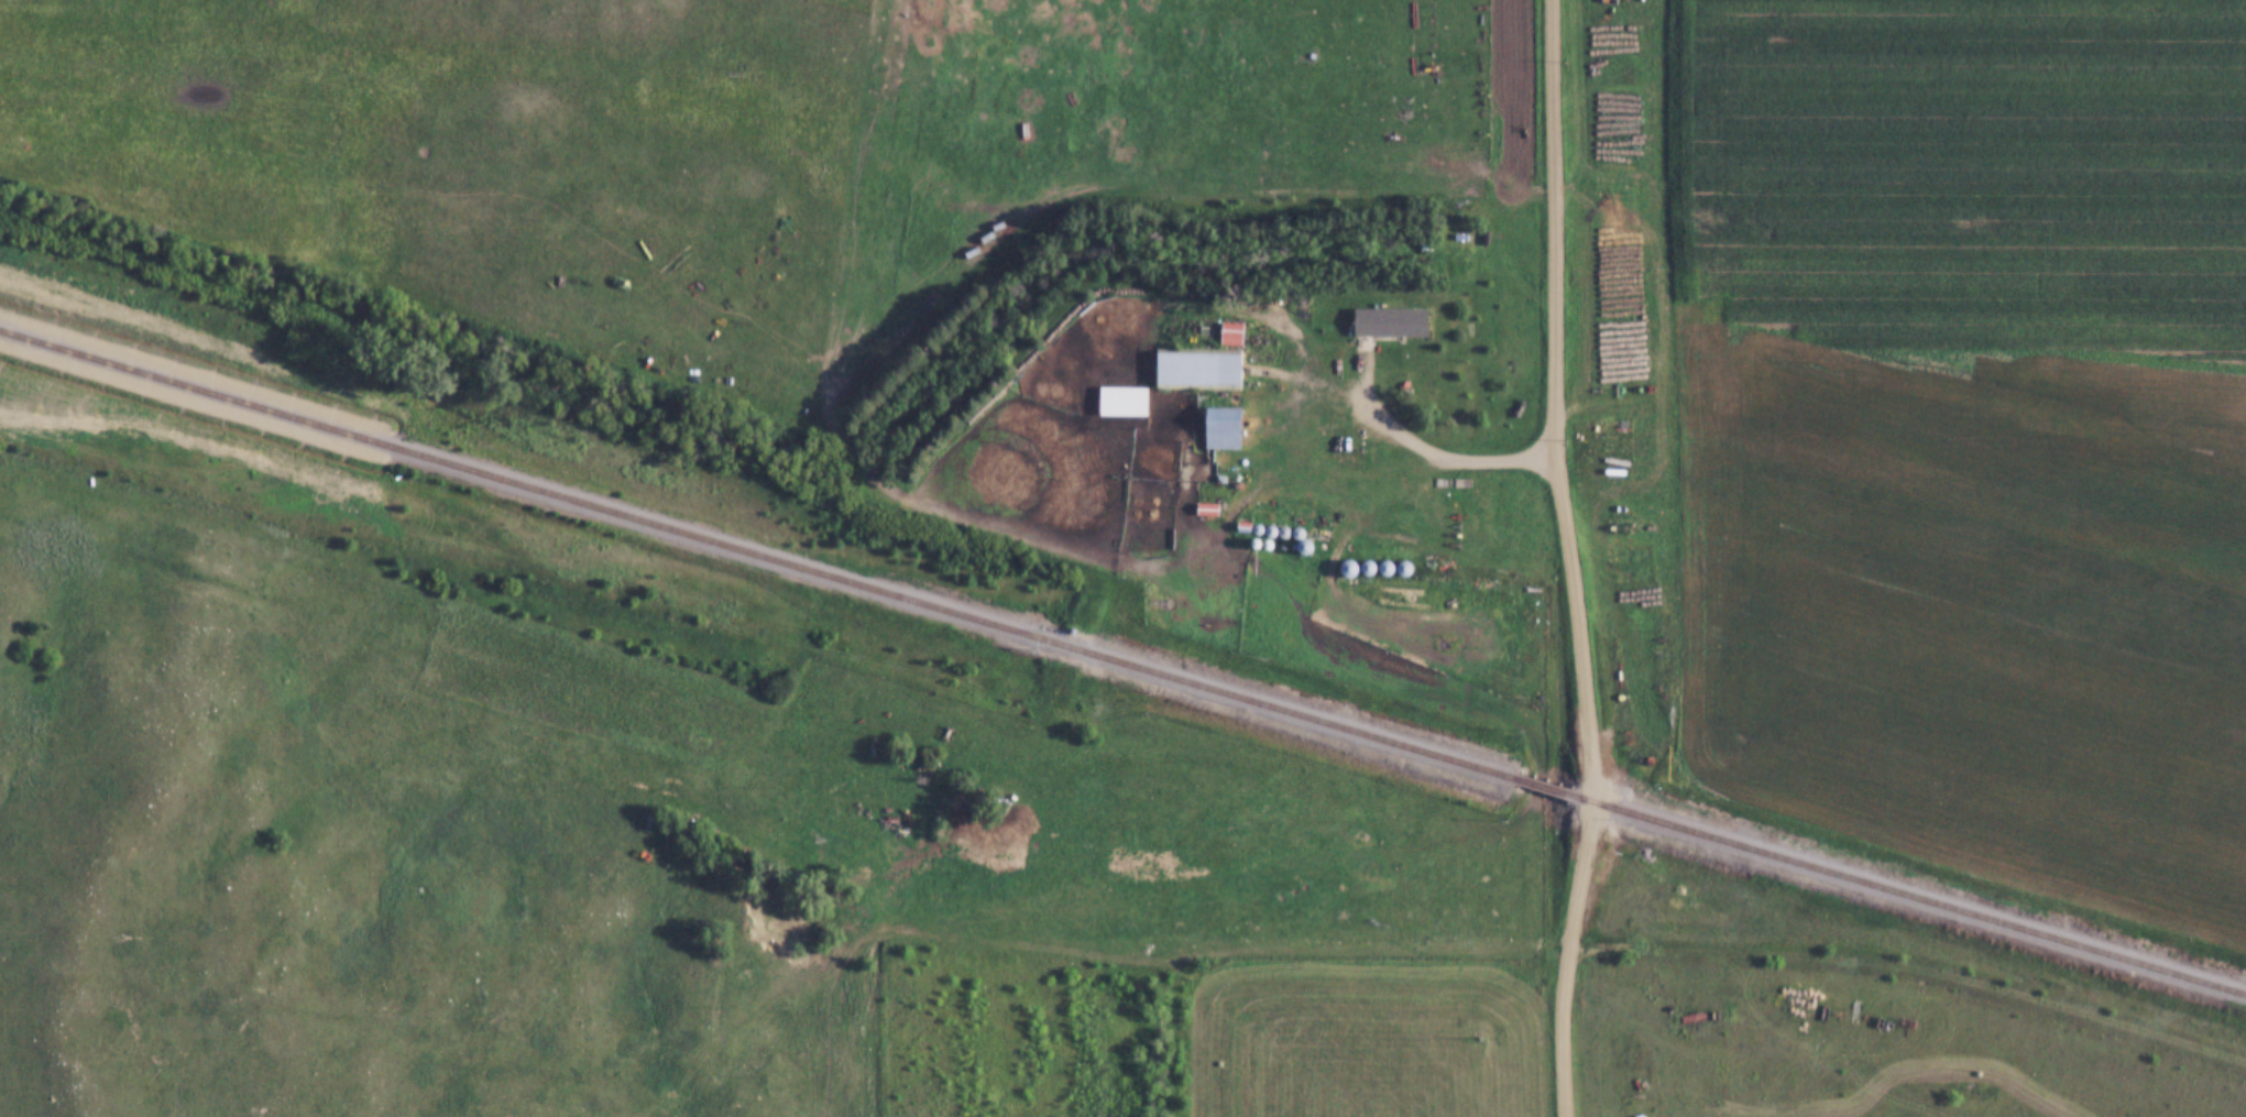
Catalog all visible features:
building: (1012, 223)
building: (1391, 325)
building: (1198, 371)
building: (1124, 403)
building: (1224, 430)
road: (1418, 448)
railway: (757, 555)
road: (1567, 559)
railway: (1544, 789)
railway: (1909, 897)
road: (1914, 961)

